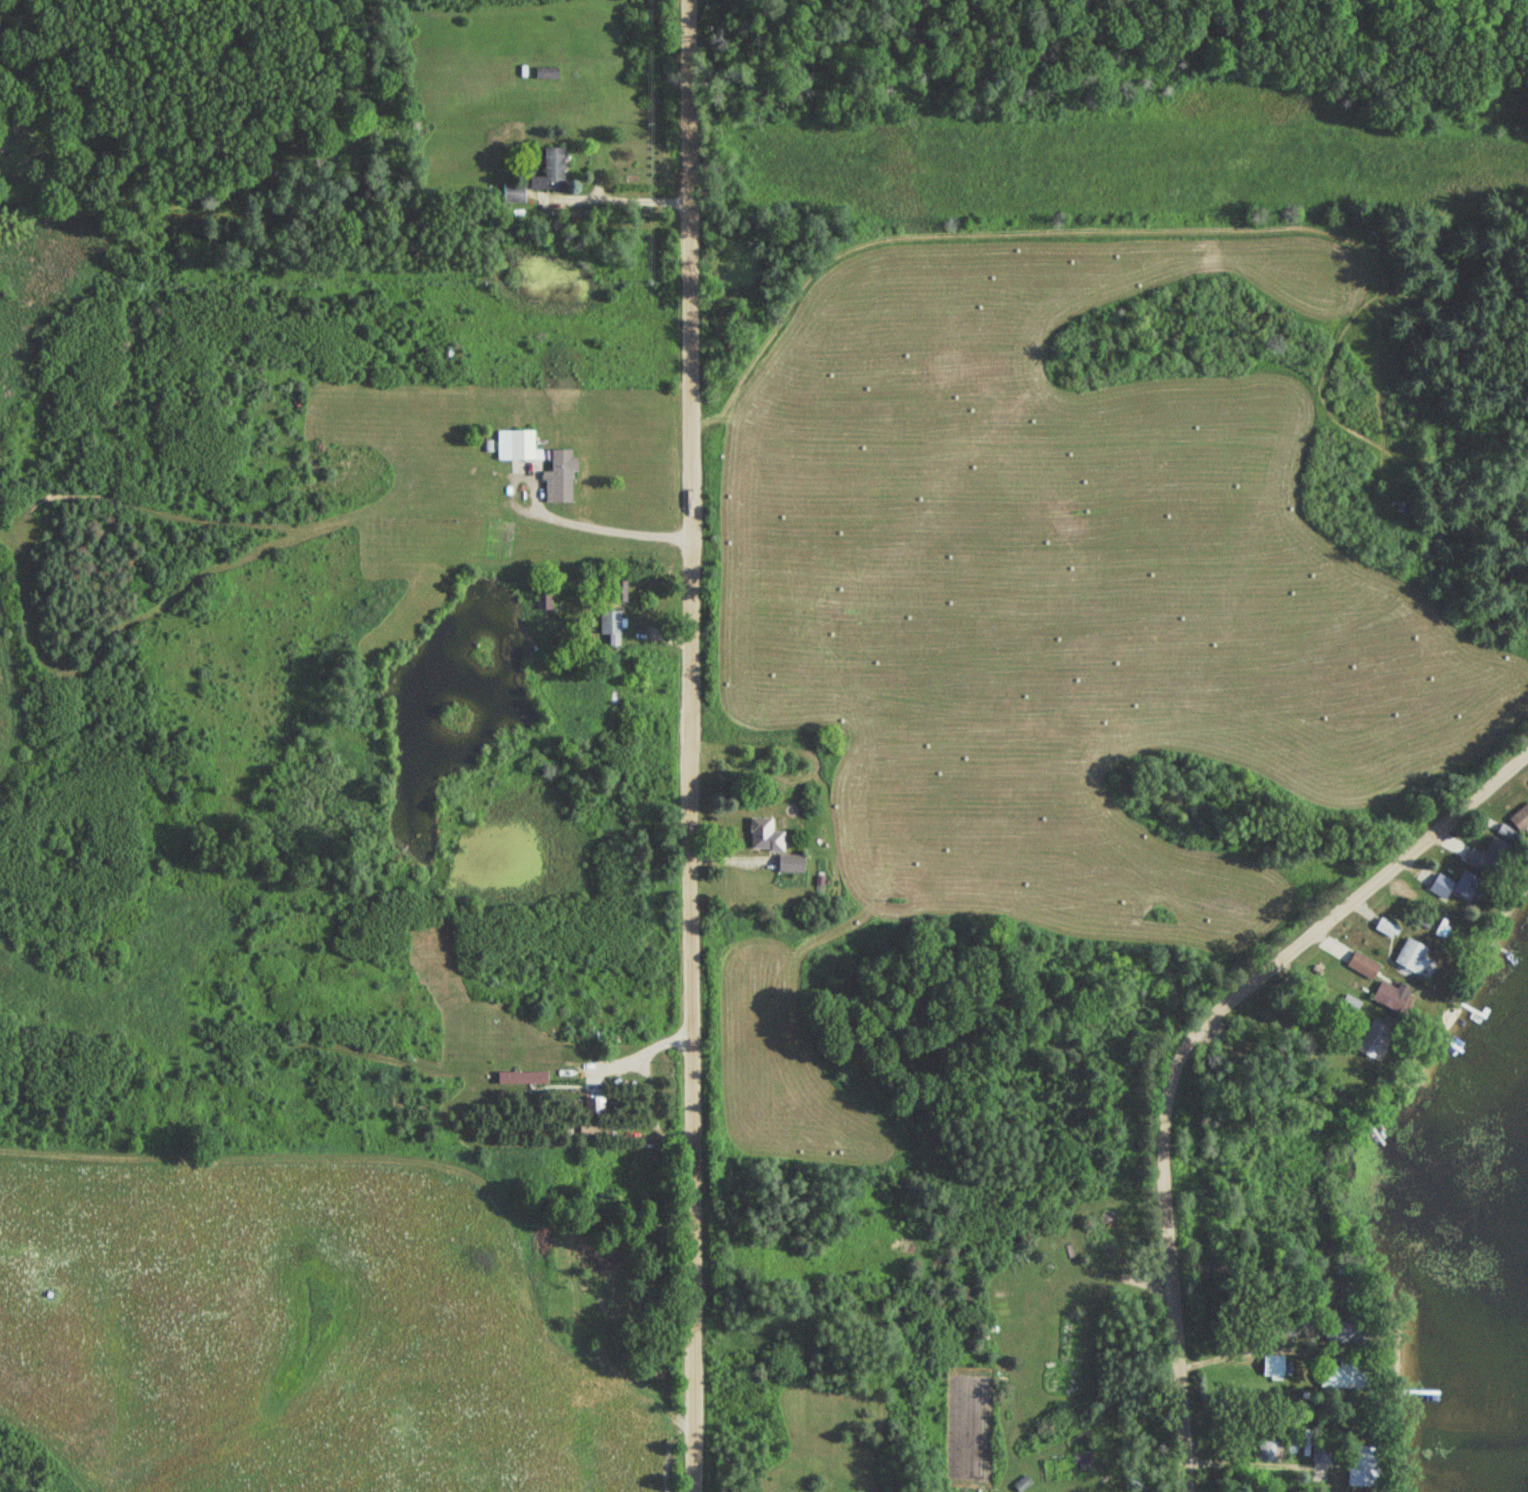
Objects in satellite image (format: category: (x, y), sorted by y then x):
building: (546, 73)
building: (549, 171)
building: (513, 193)
building: (538, 463)
building: (617, 589)
building: (544, 598)
building: (609, 621)
road: (687, 745)
building: (1520, 820)
building: (763, 835)
road: (1450, 838)
building: (1489, 856)
road: (729, 859)
building: (789, 863)
building: (1454, 885)
building: (1386, 927)
road: (1332, 942)
building: (1410, 956)
building: (1361, 964)
building: (1390, 995)
building: (1347, 1008)
building: (1374, 1040)
road: (1186, 1047)
road: (645, 1054)
building: (522, 1077)
building: (585, 1130)
building: (1273, 1366)
building: (1336, 1377)
building: (1316, 1456)
building: (1083, 1460)
building: (1022, 1483)

